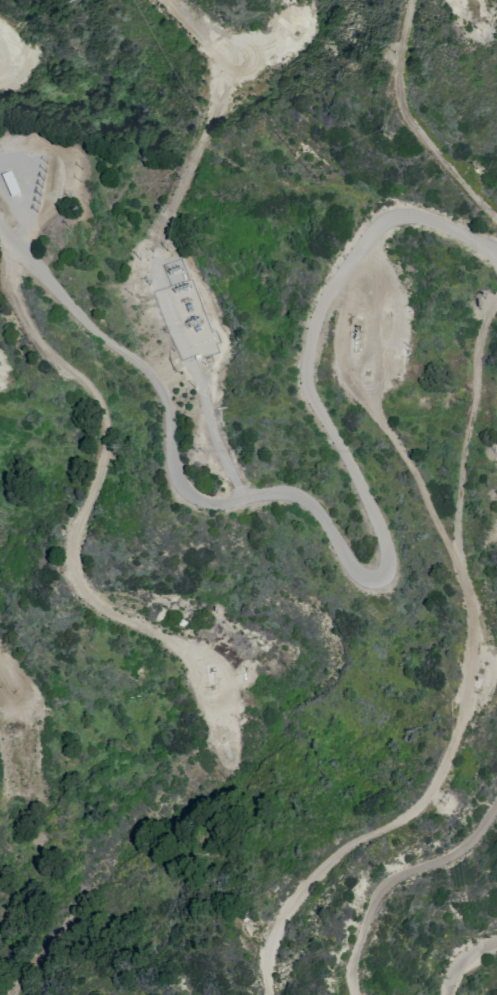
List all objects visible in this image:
road: (354, 570)

